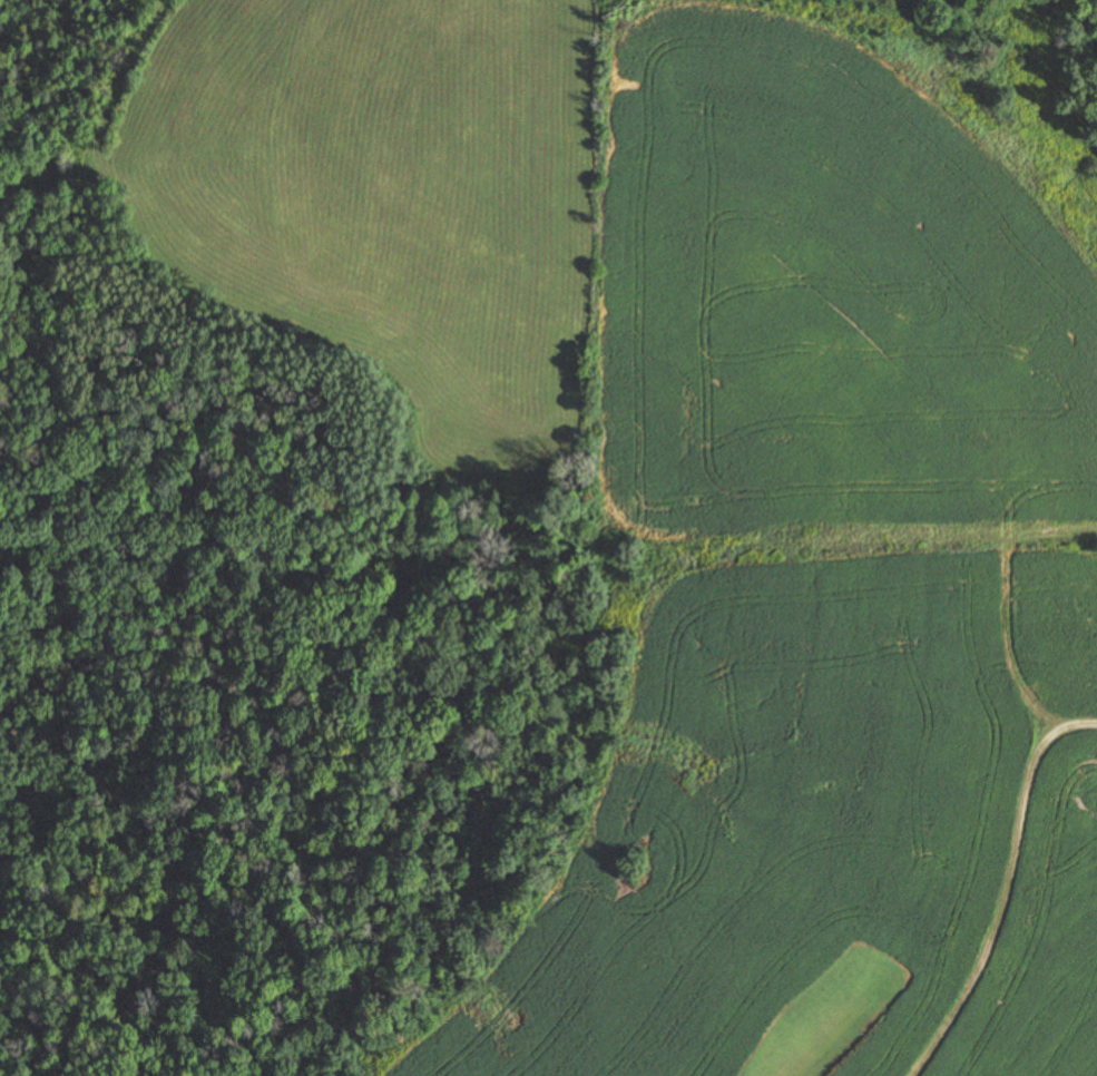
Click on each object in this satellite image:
road: (1008, 890)
airport runway: (855, 1030)

